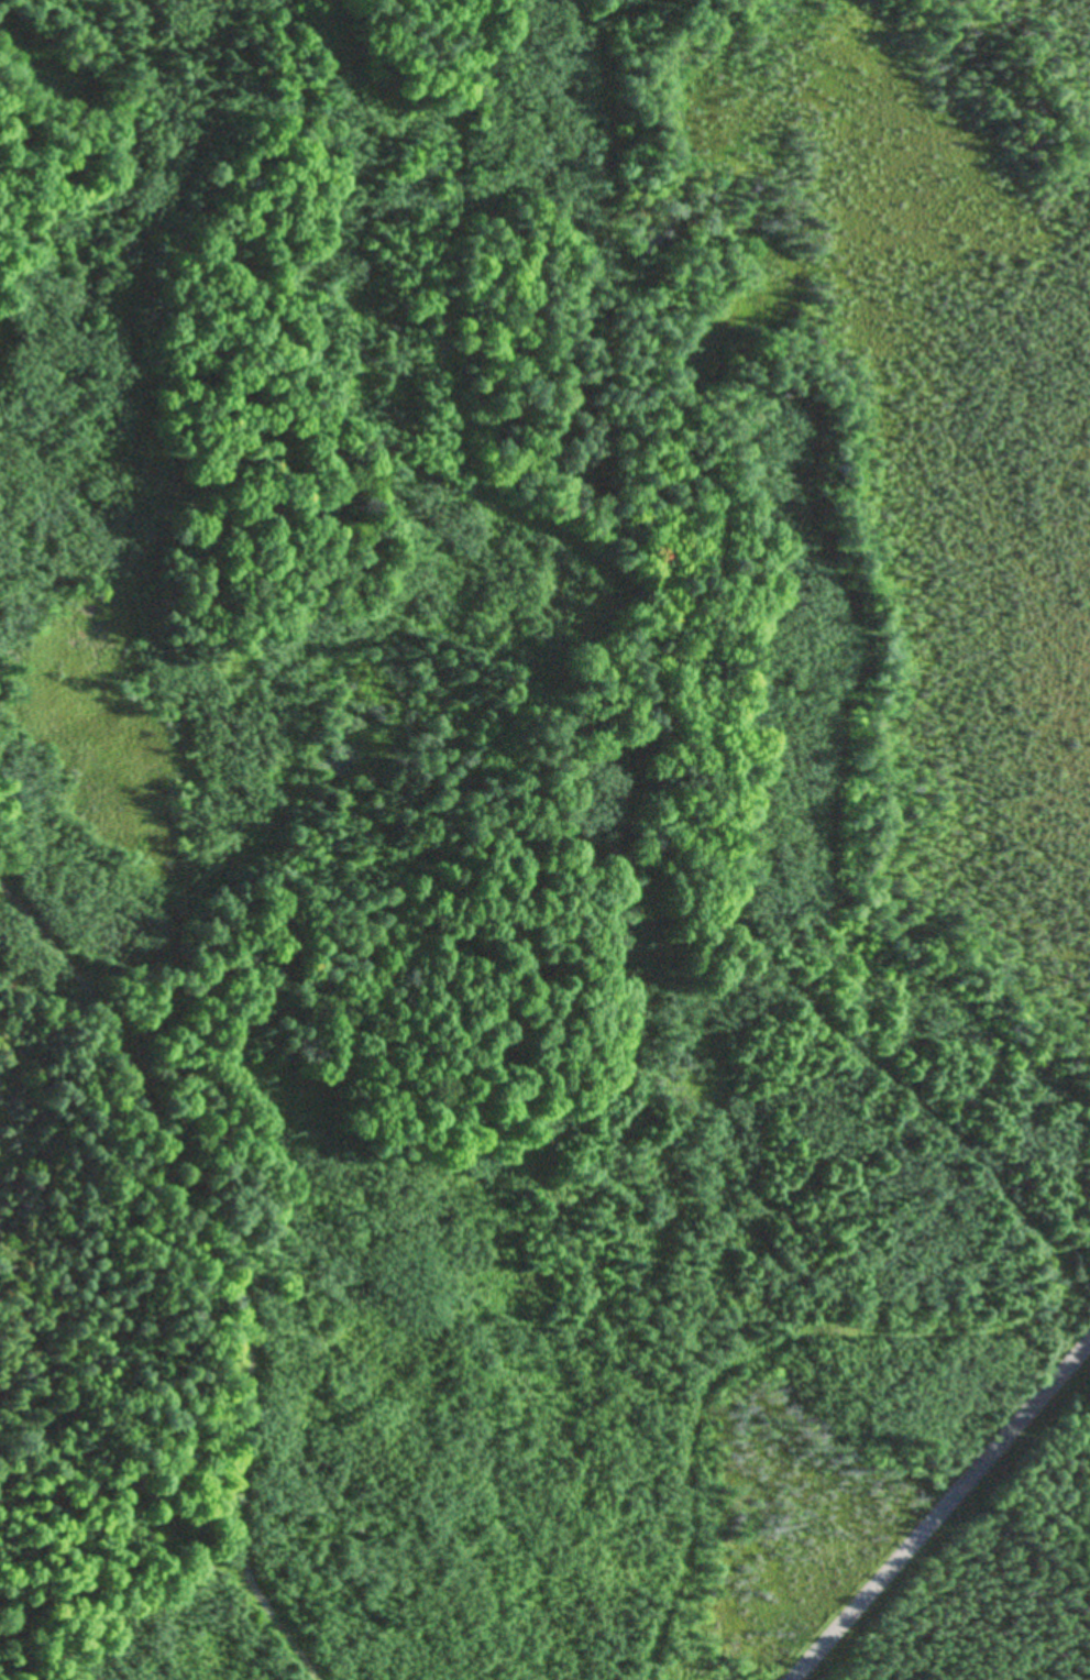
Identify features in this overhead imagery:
road: (950, 1507)

